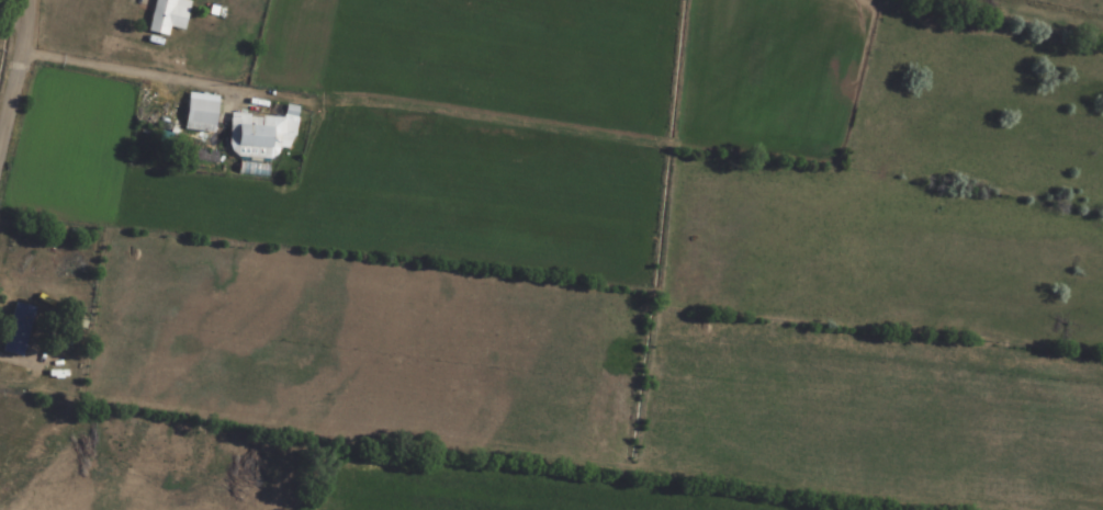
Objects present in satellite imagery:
building: (167, 16)
road: (15, 69)
building: (200, 110)
building: (255, 137)
building: (16, 330)

